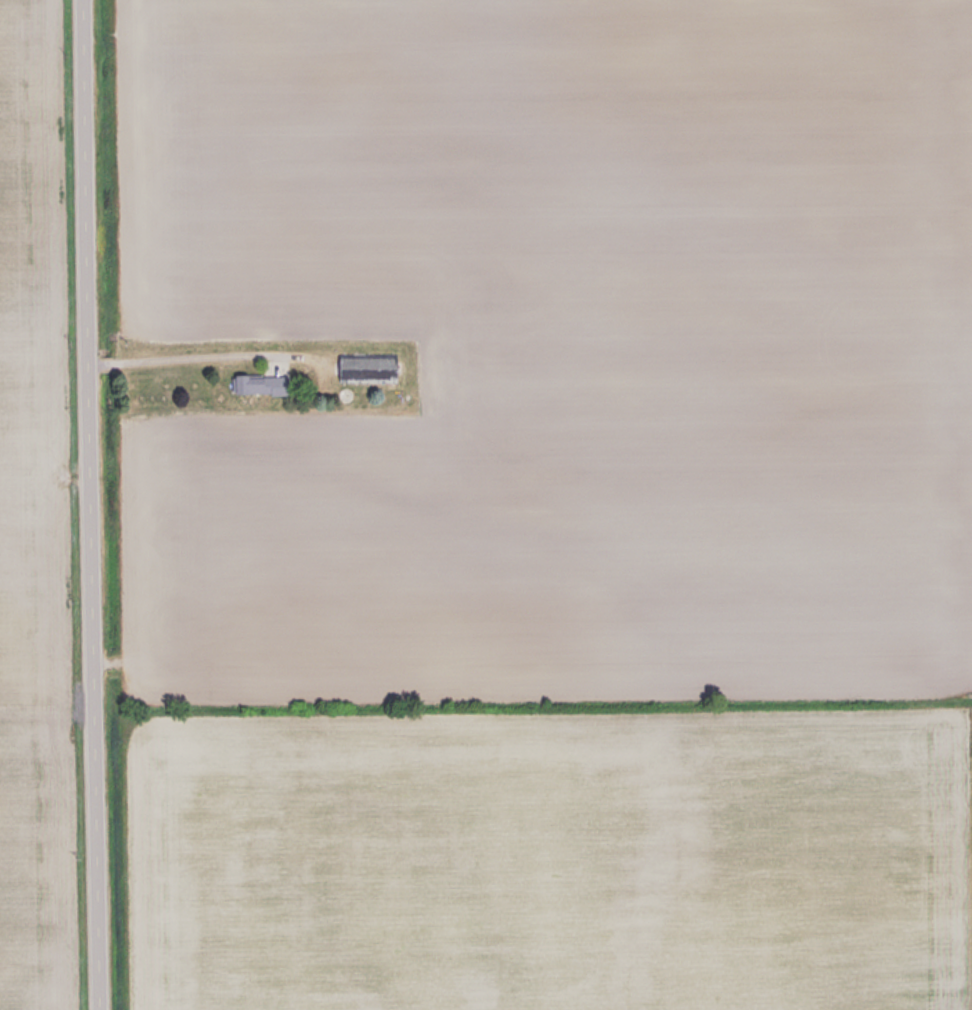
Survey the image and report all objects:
road: (181, 353)
building: (369, 368)
building: (263, 383)
road: (92, 505)

